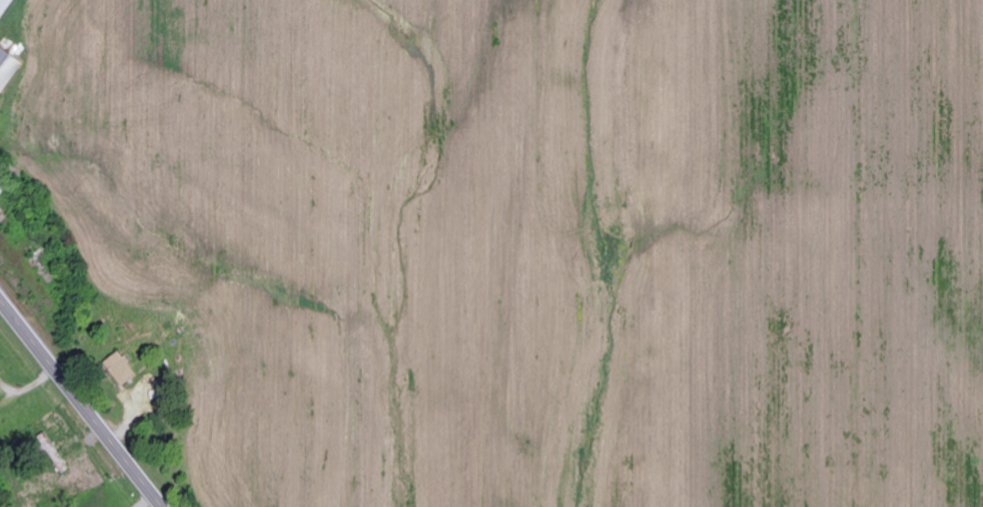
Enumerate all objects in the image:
building: (6, 9)
building: (8, 70)
building: (3, 187)
building: (121, 369)
road: (82, 401)

